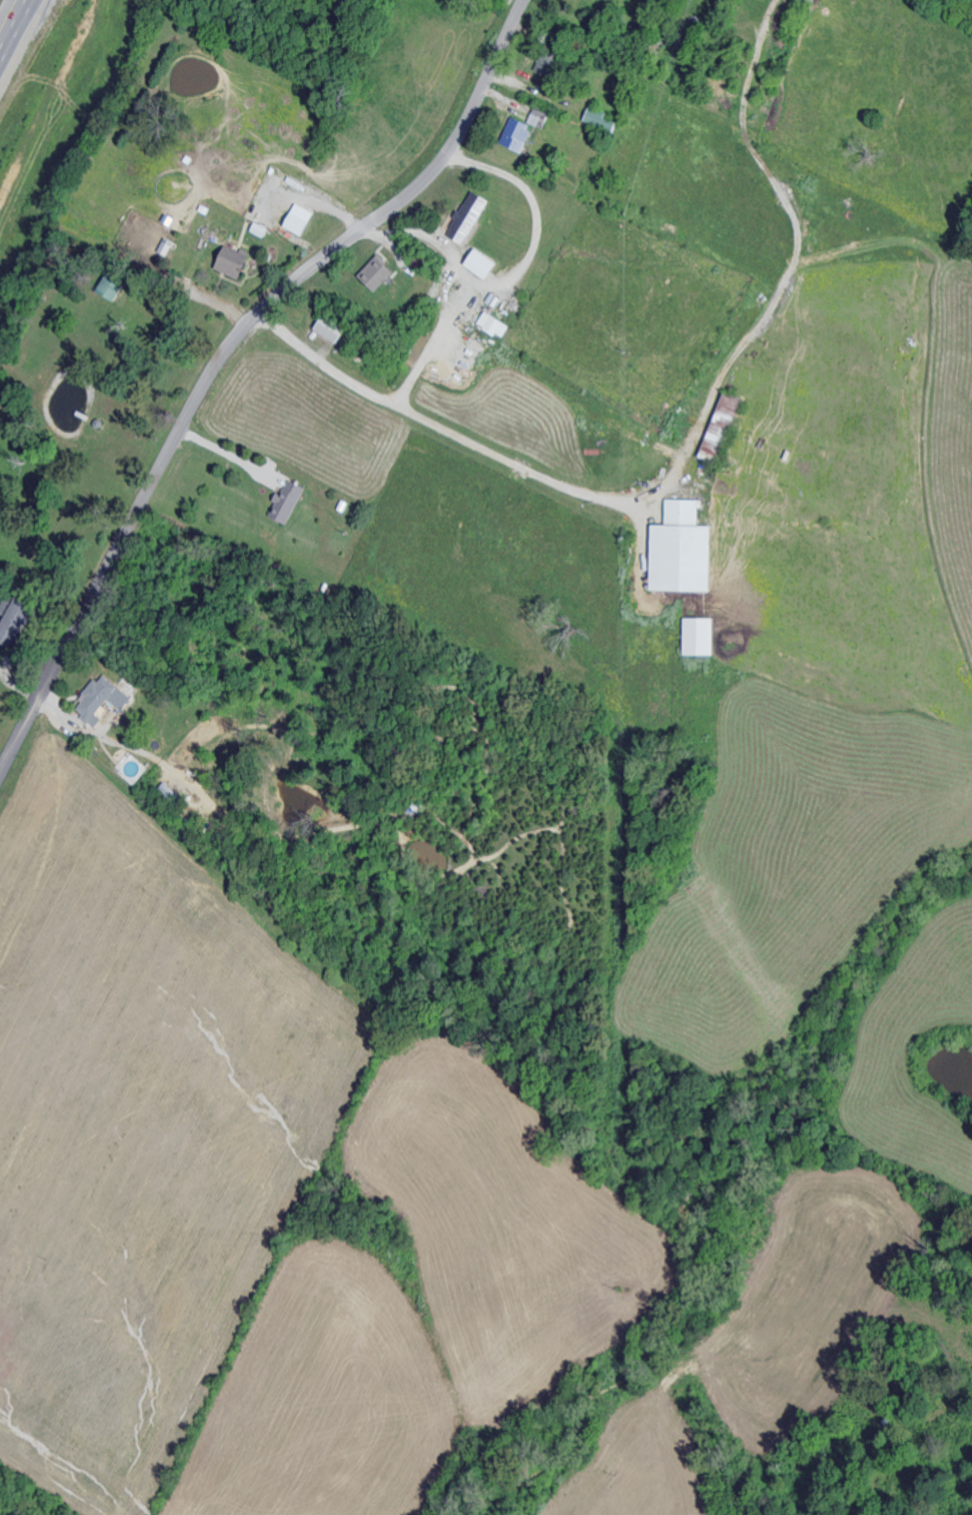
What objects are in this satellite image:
road: (13, 26)
building: (548, 64)
building: (603, 119)
building: (528, 129)
road: (533, 198)
building: (471, 217)
building: (303, 219)
road: (401, 231)
building: (166, 245)
building: (236, 260)
building: (487, 263)
building: (380, 272)
building: (496, 324)
building: (334, 327)
road: (222, 352)
road: (418, 363)
building: (724, 426)
road: (225, 452)
road: (685, 453)
building: (286, 499)
building: (686, 549)
building: (702, 636)
building: (104, 699)
building: (1, 705)

